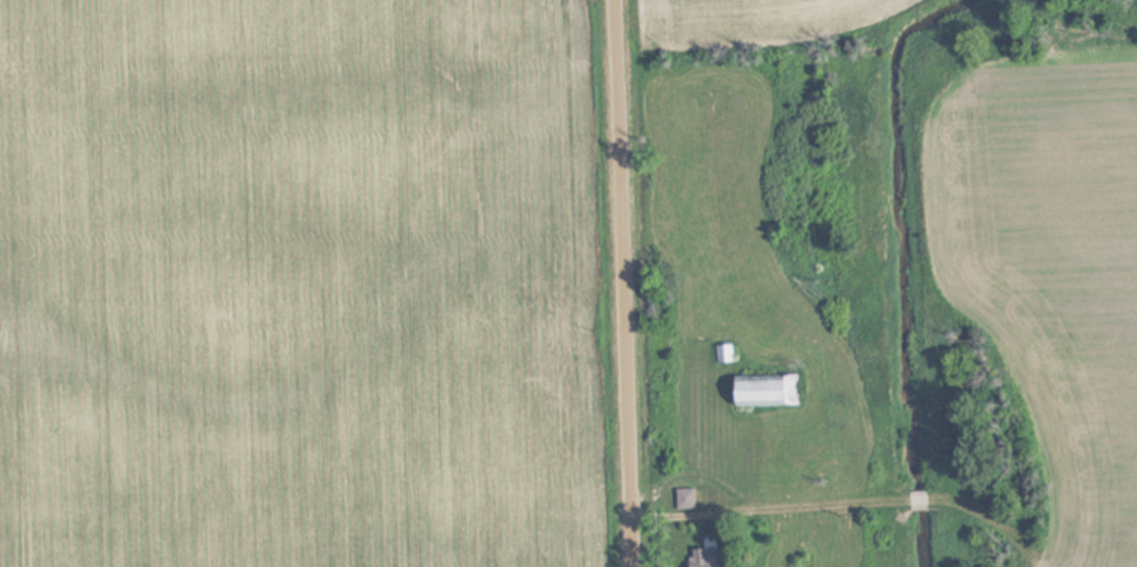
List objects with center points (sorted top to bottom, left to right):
road: (621, 283)
building: (726, 354)
building: (769, 390)
building: (798, 464)
building: (686, 499)
building: (706, 557)

